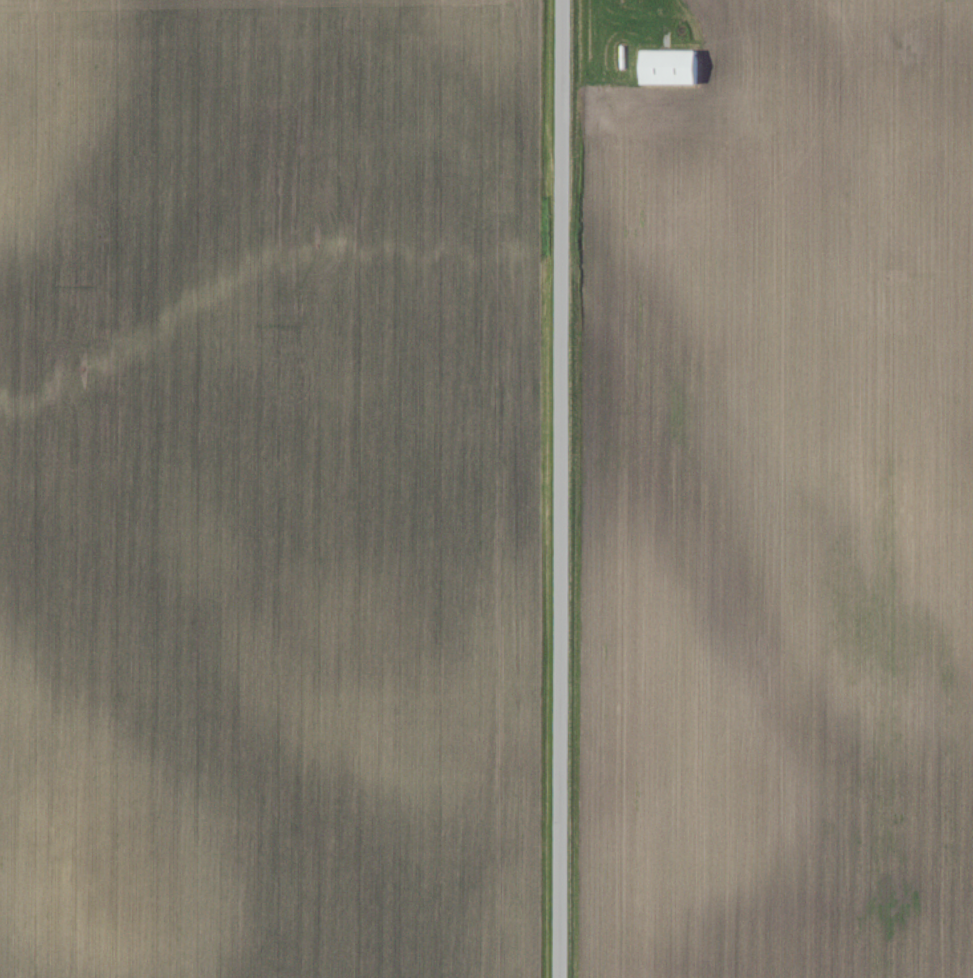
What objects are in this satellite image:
road: (557, 489)

